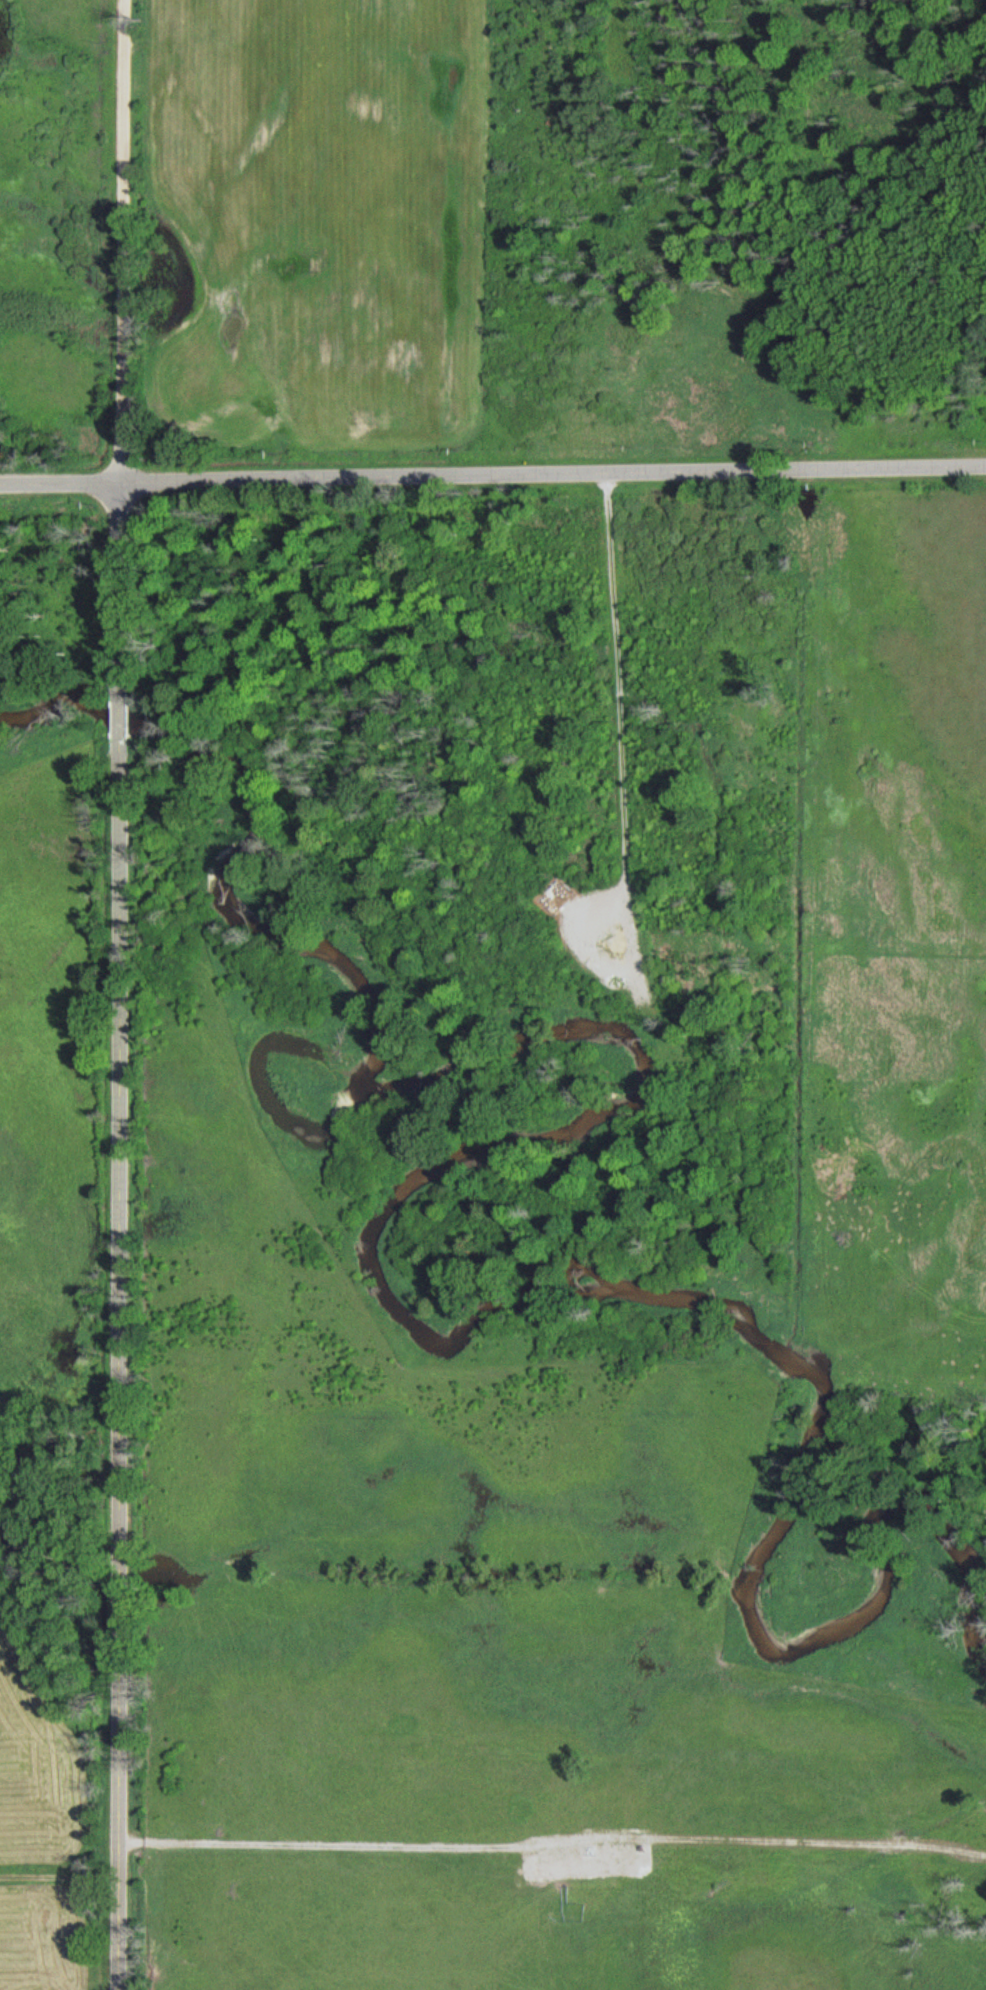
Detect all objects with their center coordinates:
road: (119, 242)
road: (553, 479)
road: (60, 484)
road: (119, 565)
road: (116, 706)
road: (601, 735)
river: (491, 1154)
road: (120, 1377)

